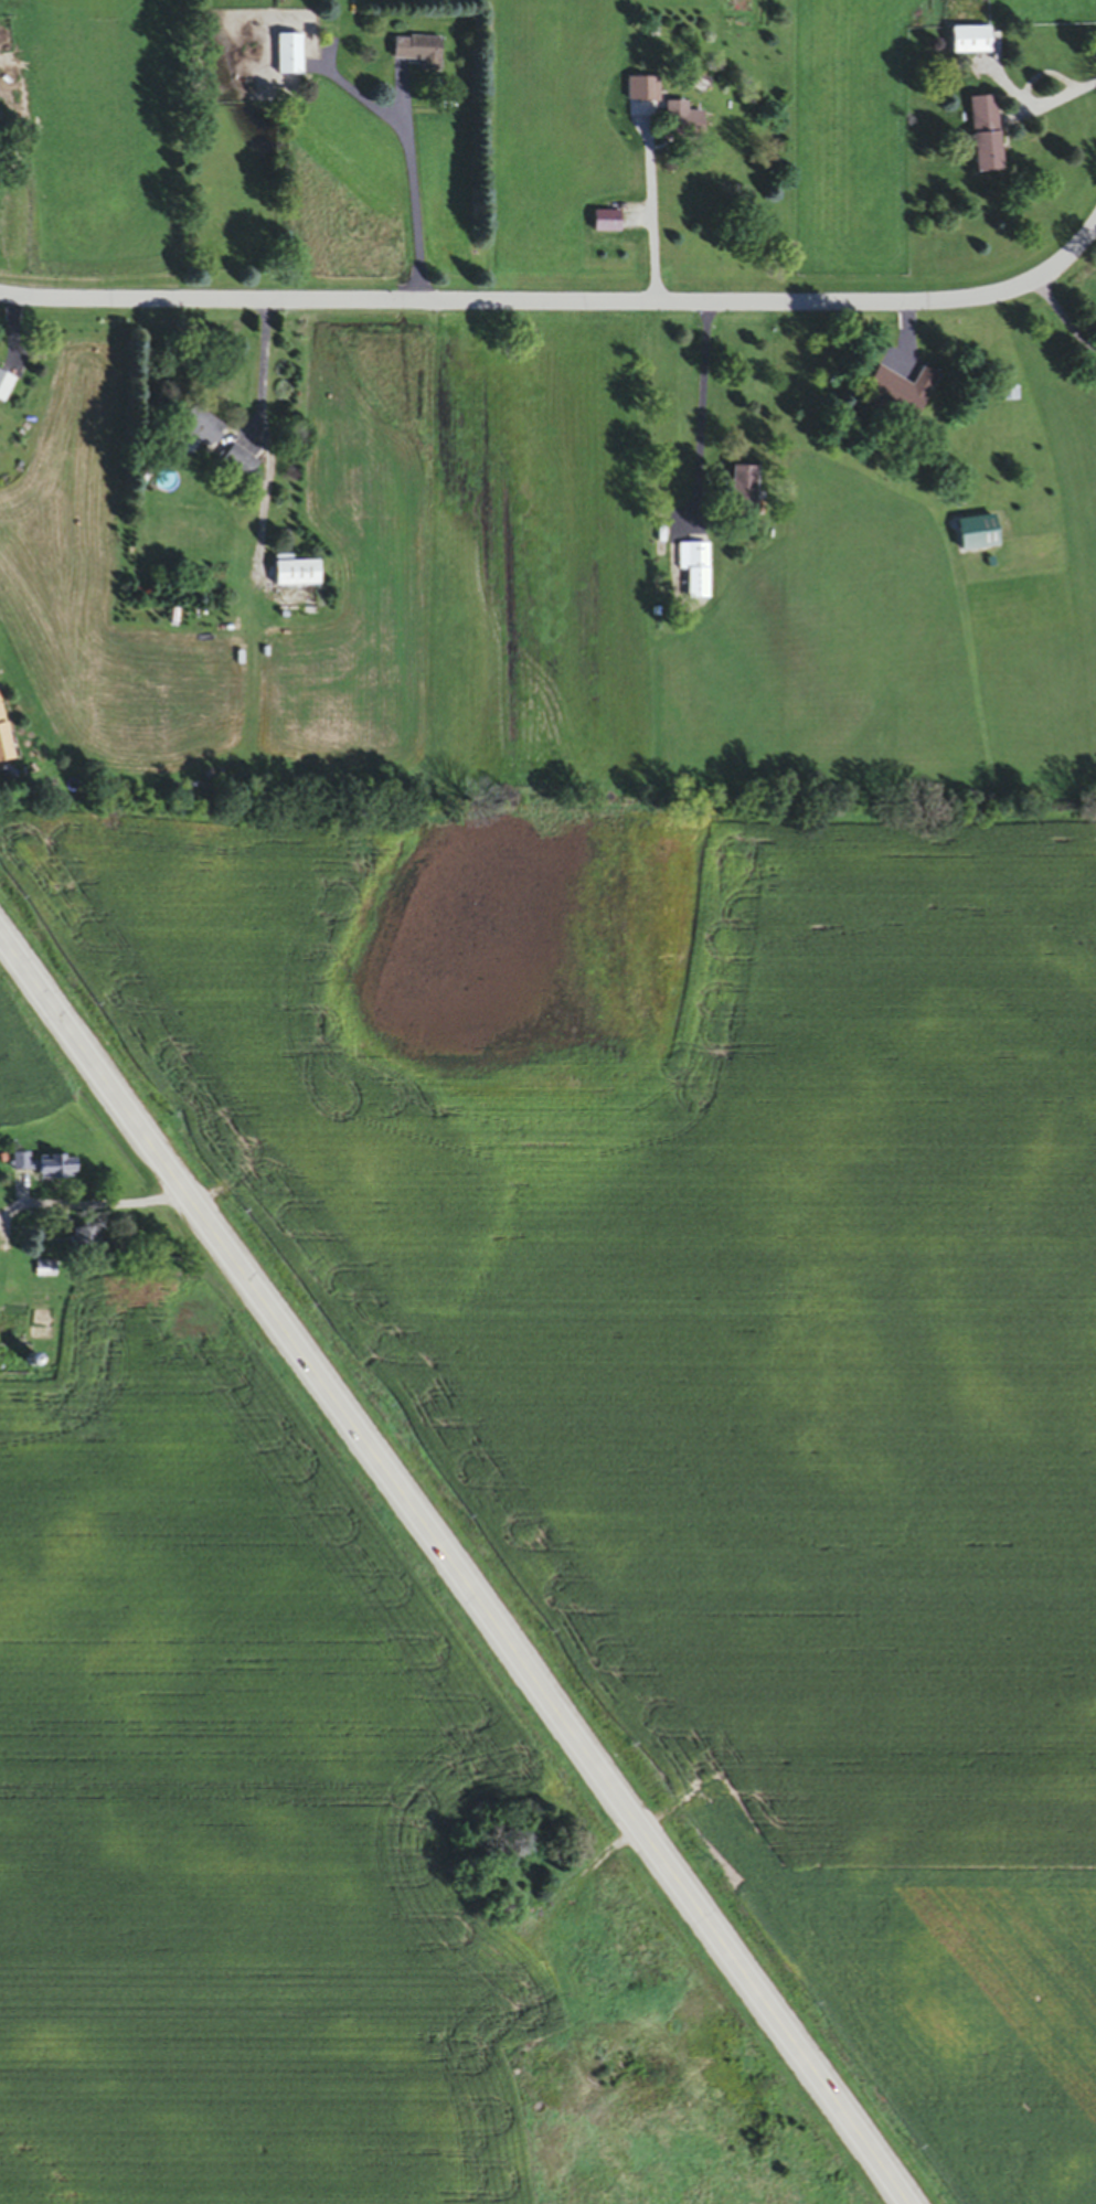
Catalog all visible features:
building: (964, 43)
building: (417, 53)
building: (286, 56)
building: (648, 93)
road: (1052, 93)
building: (674, 124)
building: (979, 137)
road: (405, 191)
road: (643, 200)
building: (604, 224)
road: (560, 301)
road: (1066, 318)
road: (263, 372)
building: (2, 386)
building: (896, 393)
road: (698, 406)
building: (190, 430)
building: (236, 465)
road: (264, 493)
building: (739, 493)
building: (975, 536)
building: (694, 571)
building: (288, 576)
building: (3, 742)
building: (40, 1167)
road: (93, 1202)
building: (75, 1242)
road: (454, 1569)

